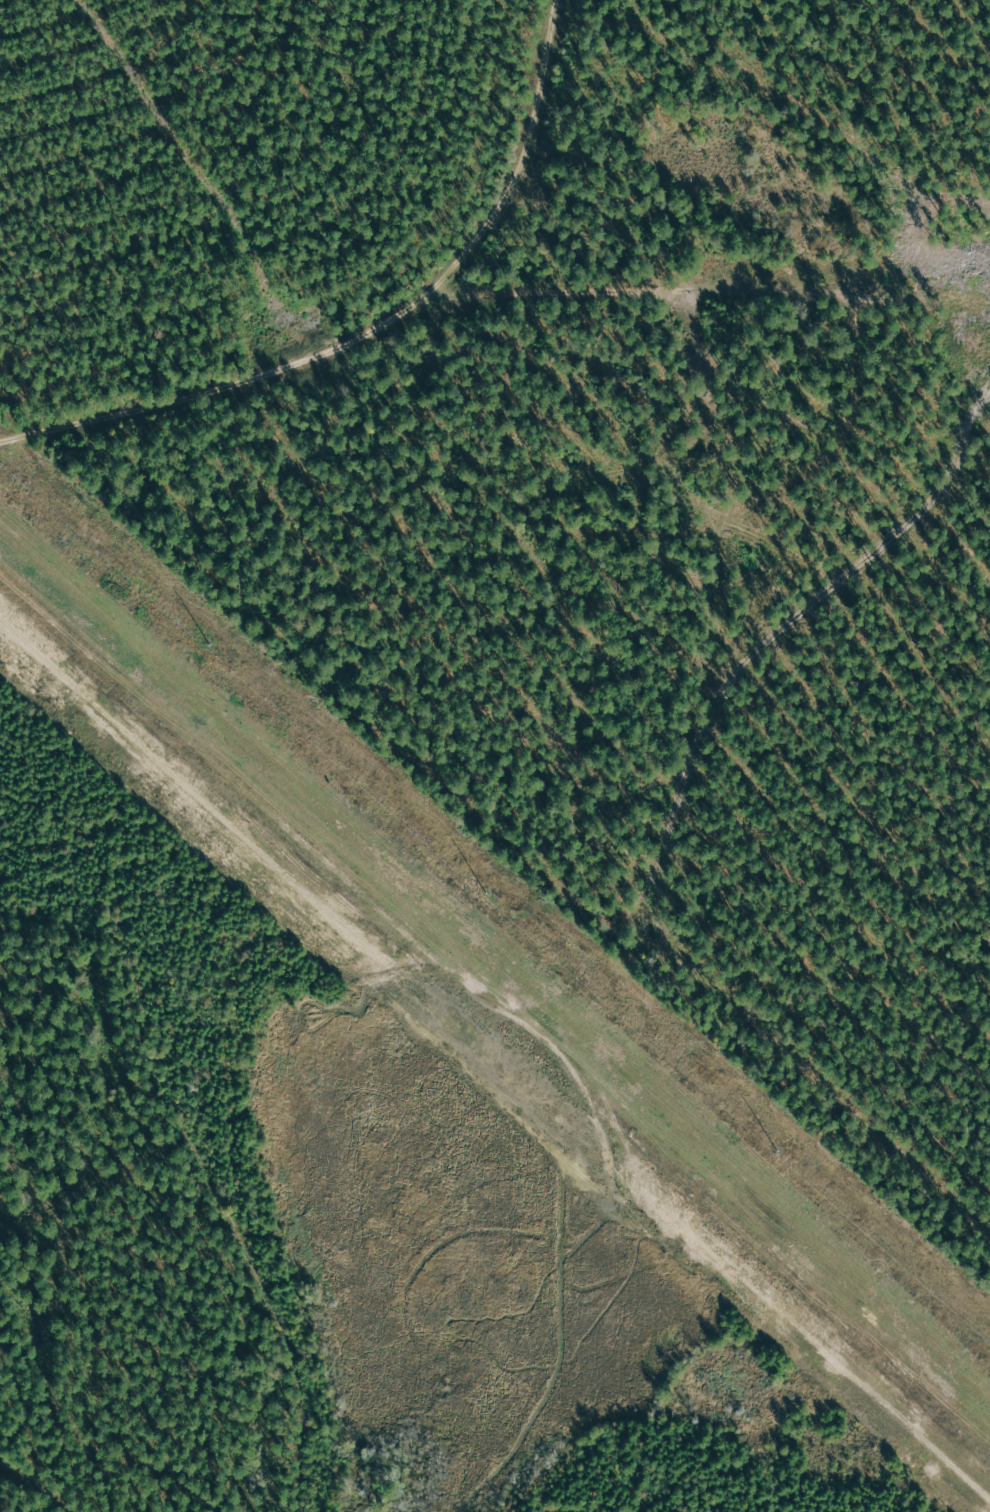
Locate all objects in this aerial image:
road: (6, 420)
power tower: (206, 642)
power tower: (494, 899)
power tower: (783, 1154)

